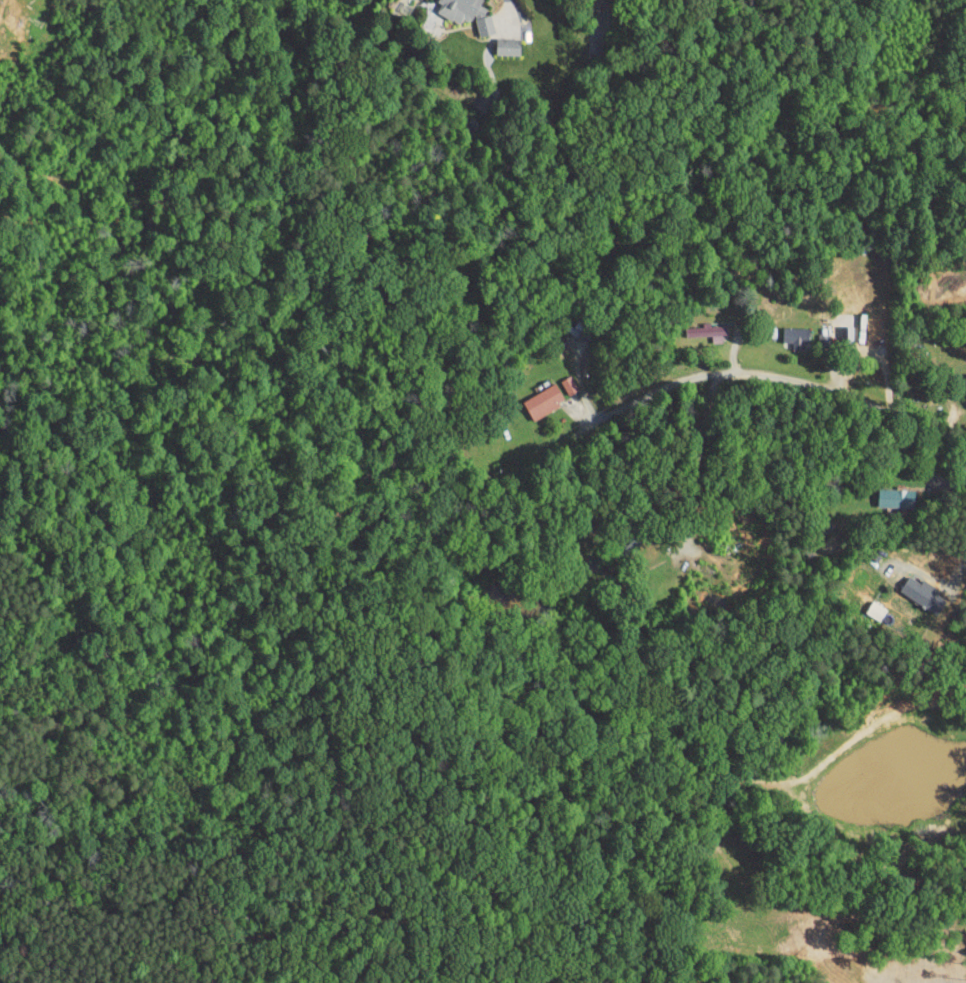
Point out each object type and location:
building: (458, 9)
building: (497, 40)
road: (866, 78)
building: (698, 325)
building: (785, 330)
road: (760, 377)
building: (961, 377)
building: (558, 378)
building: (533, 394)
road: (649, 461)
road: (697, 485)
building: (885, 491)
road: (958, 573)
building: (913, 588)

